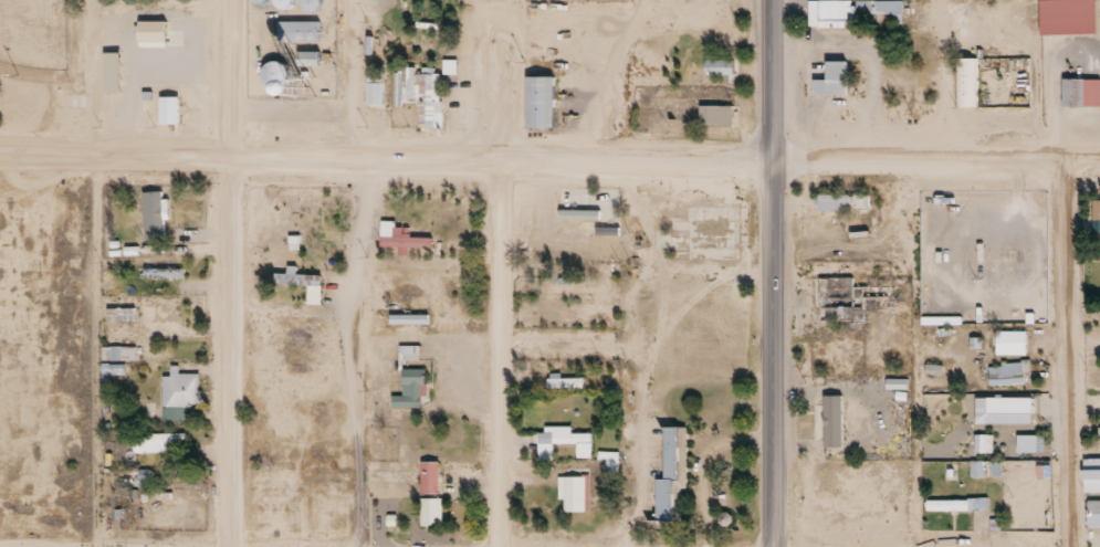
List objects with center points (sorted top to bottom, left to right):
building: (832, 10)
building: (876, 10)
building: (1065, 11)
building: (150, 24)
building: (298, 24)
building: (305, 49)
building: (715, 59)
building: (720, 72)
building: (829, 72)
building: (273, 74)
building: (965, 74)
building: (1078, 85)
building: (537, 91)
building: (373, 94)
building: (168, 102)
building: (715, 108)
road: (934, 158)
road: (384, 160)
building: (839, 202)
building: (154, 206)
building: (1094, 215)
building: (606, 227)
building: (399, 231)
building: (404, 242)
road: (232, 273)
road: (768, 273)
building: (301, 275)
building: (567, 290)
building: (855, 295)
building: (408, 312)
building: (562, 317)
road: (1086, 320)
building: (1008, 343)
road: (1071, 351)
building: (407, 353)
road: (920, 353)
road: (362, 354)
road: (500, 354)
building: (1006, 377)
building: (178, 380)
building: (563, 382)
building: (408, 389)
building: (1012, 406)
building: (172, 414)
building: (827, 421)
building: (569, 431)
building: (154, 442)
building: (1024, 443)
building: (670, 465)
building: (429, 470)
building: (573, 487)
building: (272, 492)
building: (430, 505)
building: (1092, 514)

